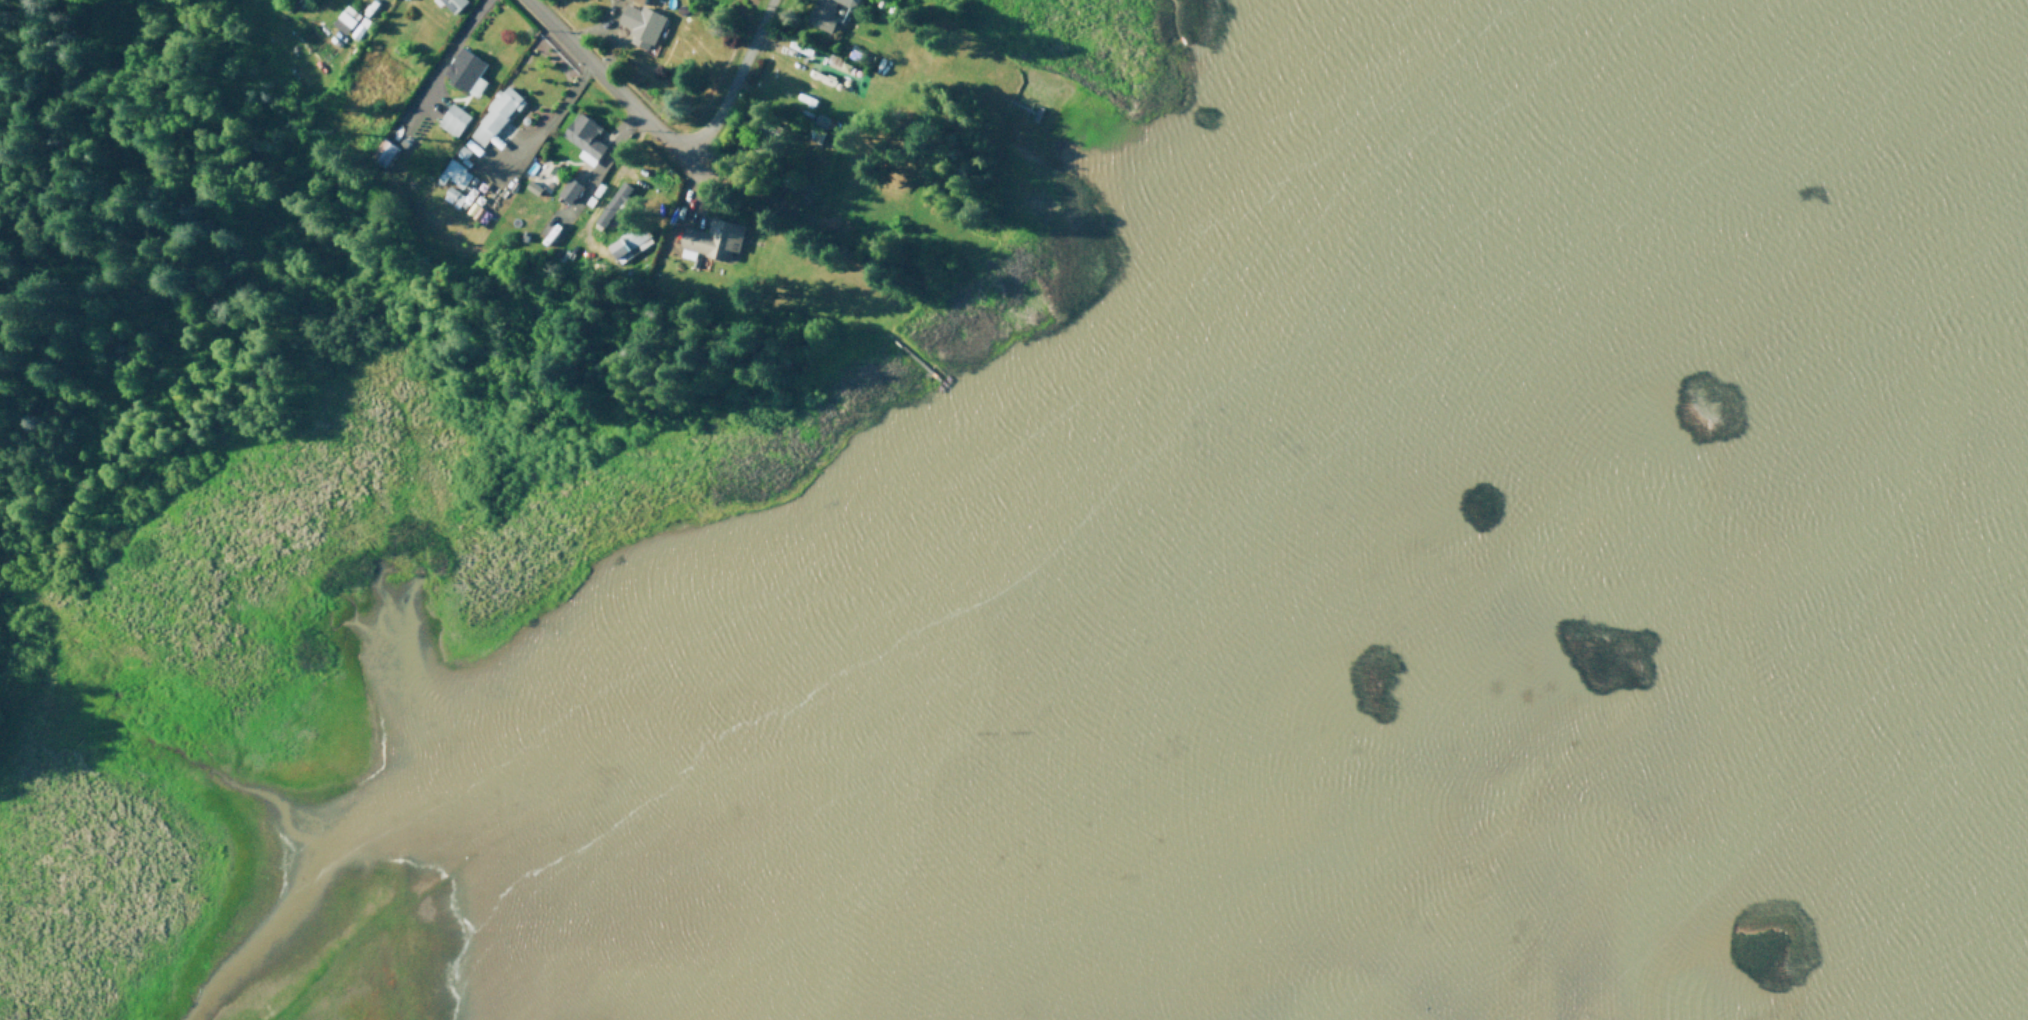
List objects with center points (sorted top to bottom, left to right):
building: (454, 3)
building: (827, 13)
building: (637, 22)
building: (360, 27)
road: (591, 27)
road: (457, 37)
building: (467, 71)
road: (735, 84)
road: (984, 95)
road: (626, 98)
road: (240, 103)
pier: (1026, 109)
building: (494, 117)
building: (455, 120)
road: (548, 120)
building: (818, 128)
building: (586, 138)
road: (614, 148)
building: (385, 151)
road: (1004, 165)
building: (454, 173)
building: (534, 187)
road: (745, 187)
building: (571, 190)
building: (454, 196)
building: (821, 202)
building: (610, 203)
building: (712, 241)
building: (630, 242)
pier: (913, 358)
road: (687, 416)
road: (45, 496)
road: (49, 590)
road: (21, 601)
road: (14, 619)

